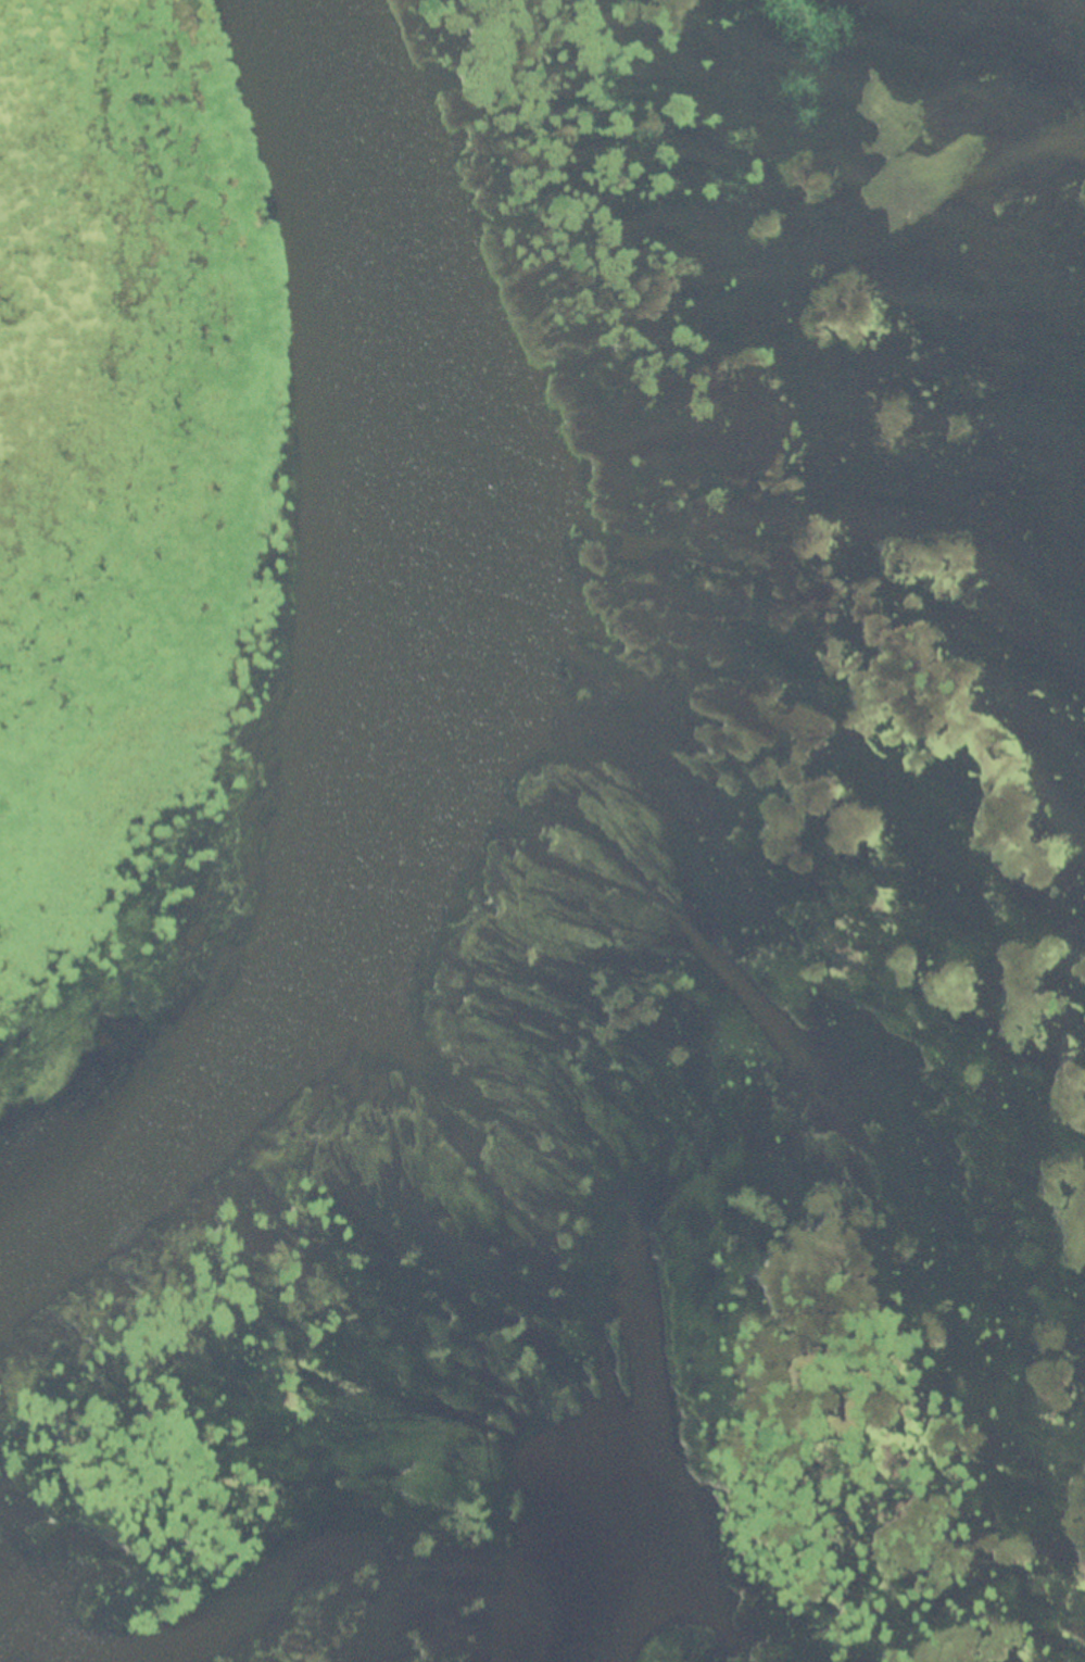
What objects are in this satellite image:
river: (390, 677)

